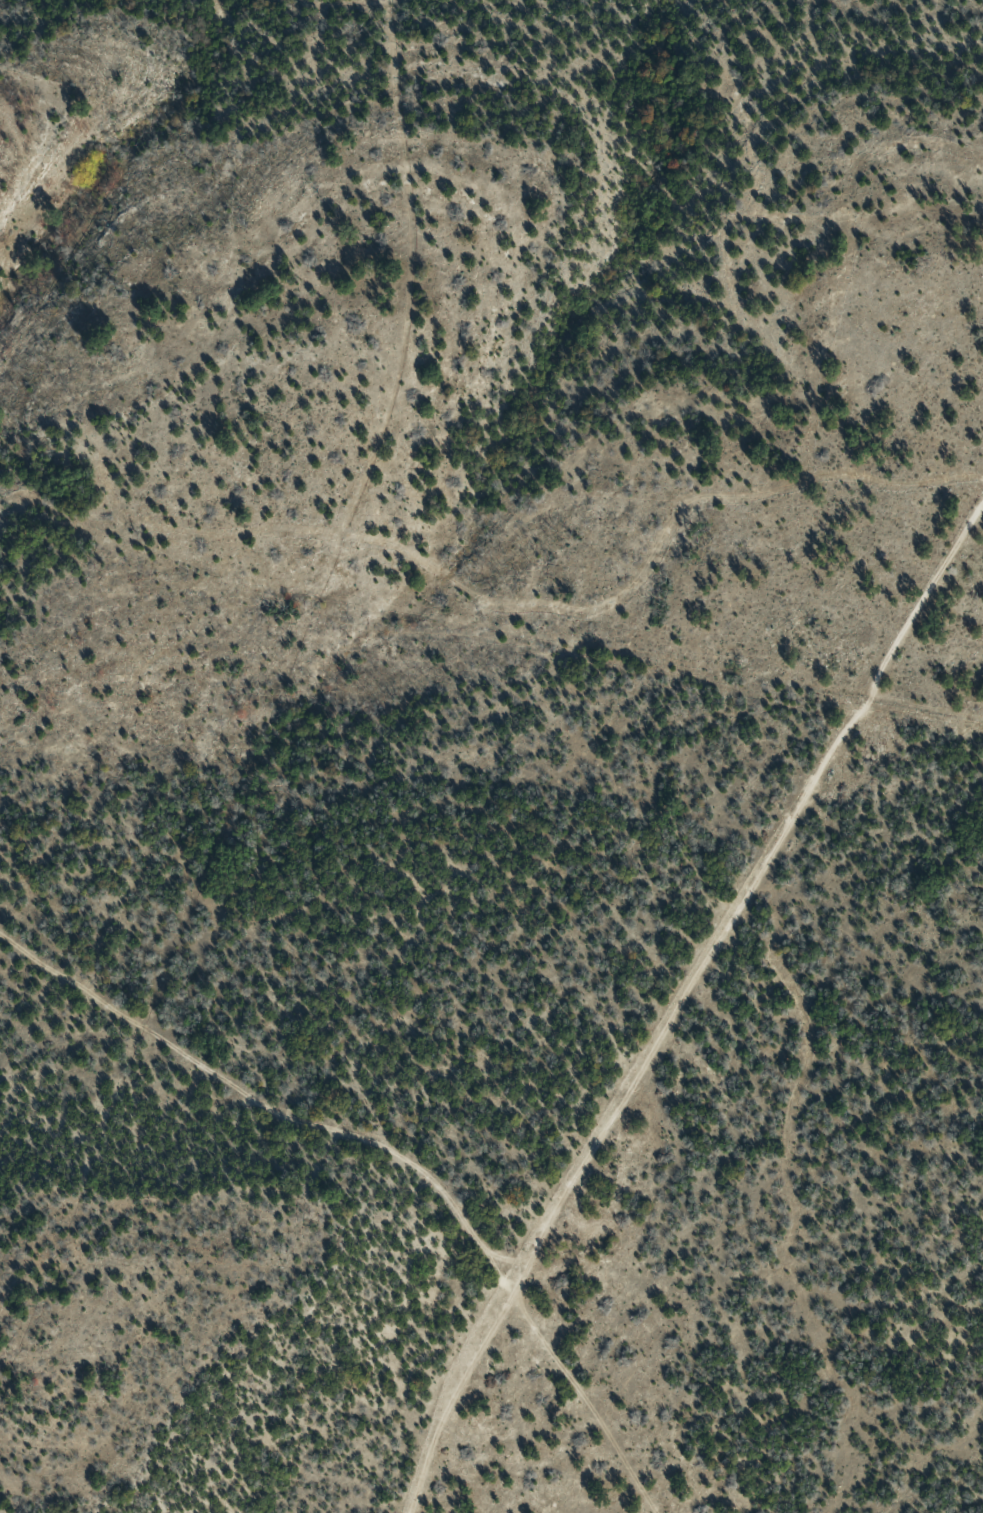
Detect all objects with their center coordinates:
road: (366, 1188)

